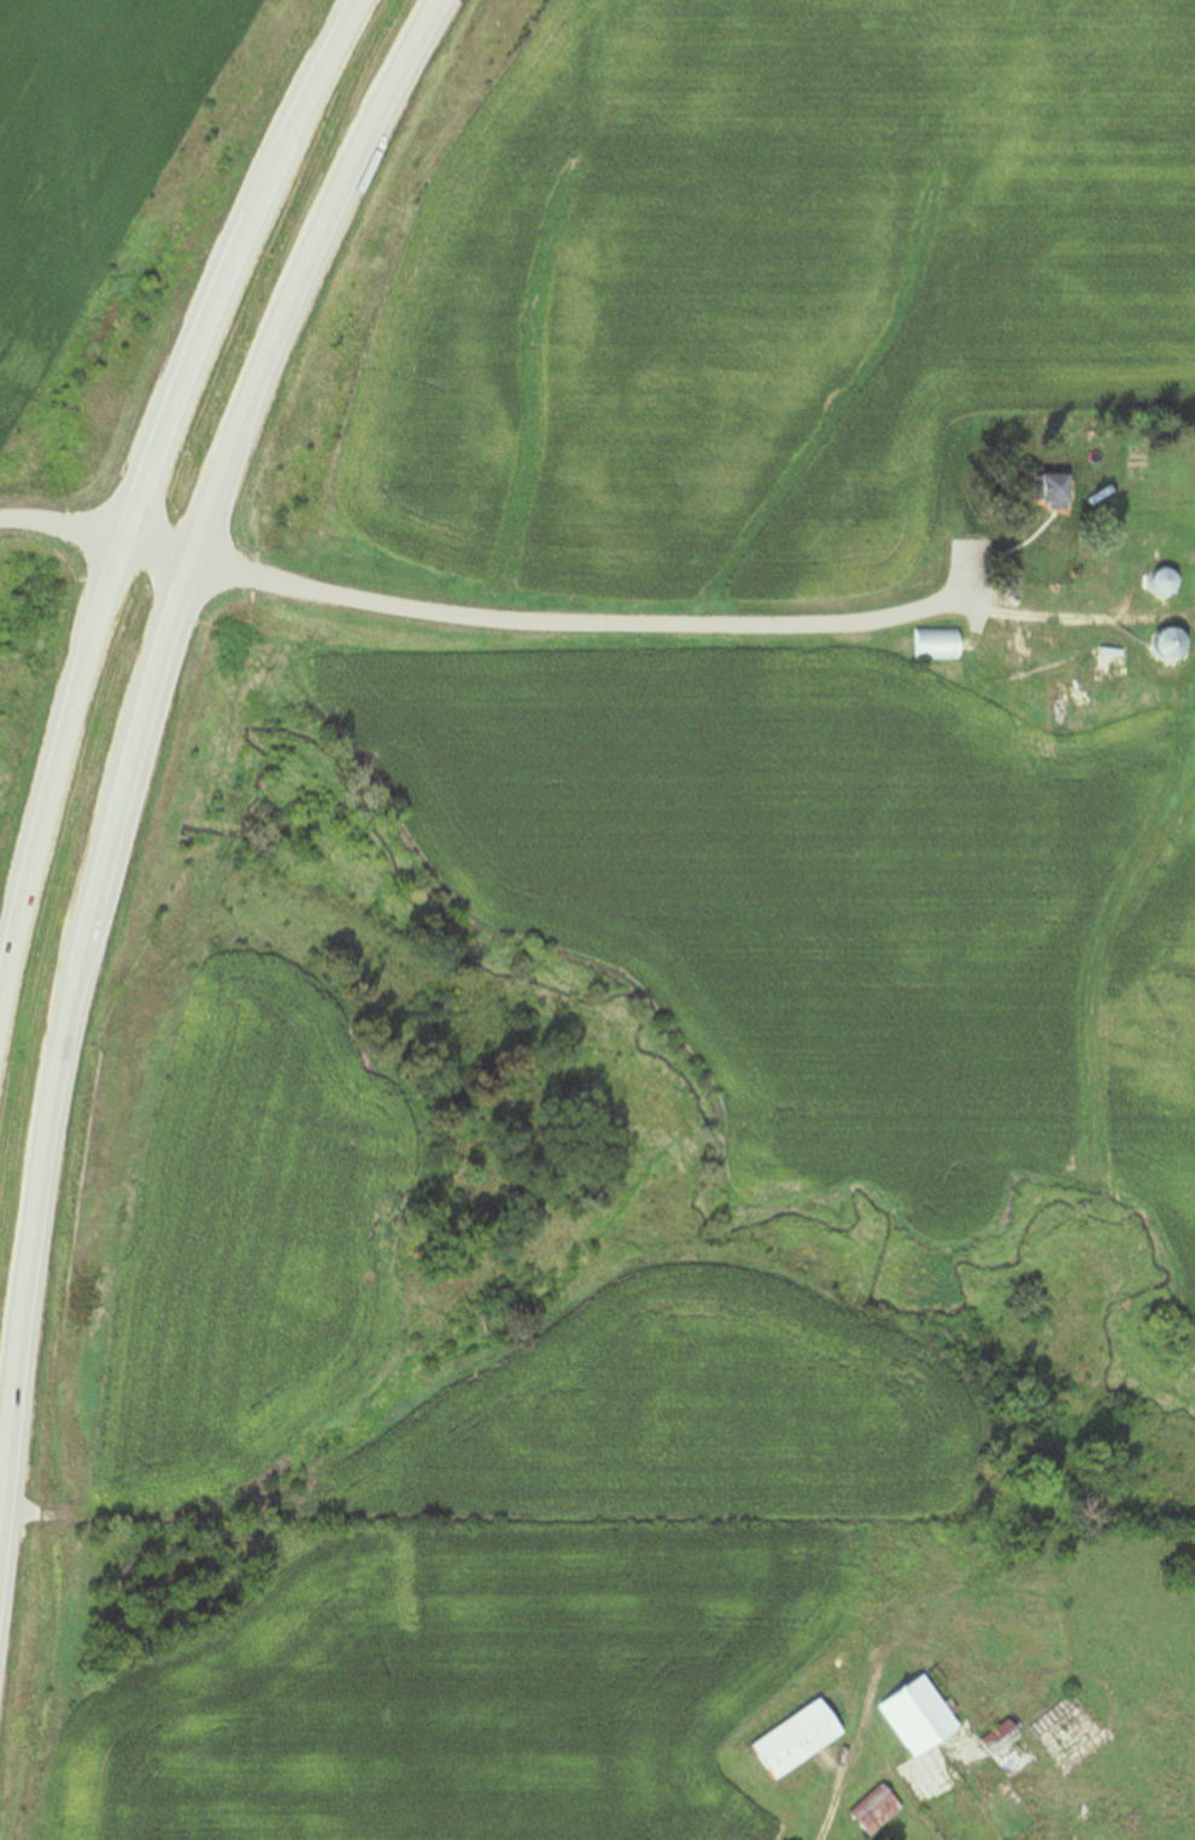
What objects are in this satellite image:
road: (143, 479)
building: (1056, 490)
building: (1171, 584)
road: (469, 619)
road: (1055, 623)
building: (938, 645)
building: (1042, 728)
road: (130, 752)
building: (920, 1717)
building: (1060, 1718)
building: (801, 1741)
building: (1015, 1751)
building: (879, 1810)

